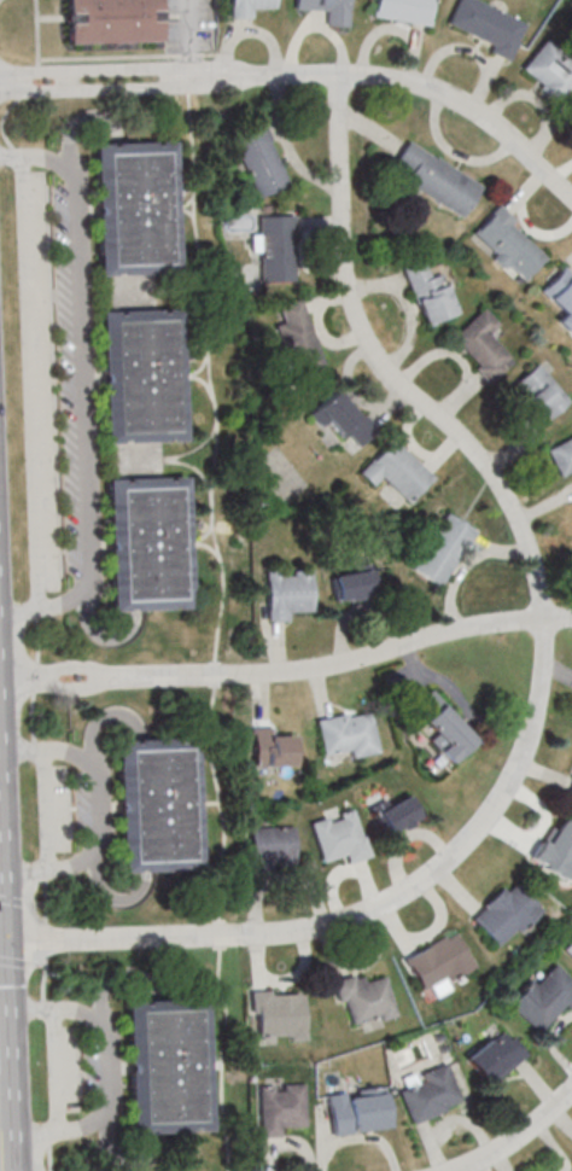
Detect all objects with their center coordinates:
building: (246, 6)
building: (326, 10)
building: (403, 10)
building: (111, 19)
building: (486, 25)
road: (37, 31)
road: (189, 39)
road: (133, 56)
building: (548, 71)
road: (307, 75)
road: (11, 155)
building: (259, 161)
building: (437, 179)
road: (197, 238)
building: (506, 244)
building: (275, 247)
building: (427, 292)
building: (561, 297)
building: (297, 340)
building: (481, 345)
building: (140, 374)
road: (84, 380)
road: (30, 384)
building: (539, 392)
building: (343, 416)
building: (561, 455)
road: (214, 459)
building: (399, 470)
road: (209, 488)
building: (443, 549)
building: (354, 584)
building: (287, 593)
road: (18, 613)
road: (288, 672)
road: (541, 681)
building: (442, 723)
building: (348, 733)
road: (22, 746)
building: (270, 747)
building: (571, 791)
road: (224, 798)
building: (156, 803)
road: (94, 806)
road: (46, 809)
building: (395, 814)
building: (340, 835)
building: (272, 847)
building: (555, 847)
road: (24, 878)
building: (504, 913)
road: (220, 934)
building: (568, 950)
road: (23, 962)
building: (439, 962)
road: (45, 979)
building: (364, 998)
building: (544, 998)
road: (28, 1008)
road: (42, 1009)
building: (279, 1013)
building: (494, 1056)
road: (222, 1059)
road: (111, 1066)
building: (167, 1066)
road: (46, 1068)
road: (58, 1070)
building: (428, 1093)
building: (280, 1107)
building: (357, 1111)
road: (30, 1135)
road: (519, 1135)
road: (48, 1136)
road: (0, 1154)
road: (51, 1160)

